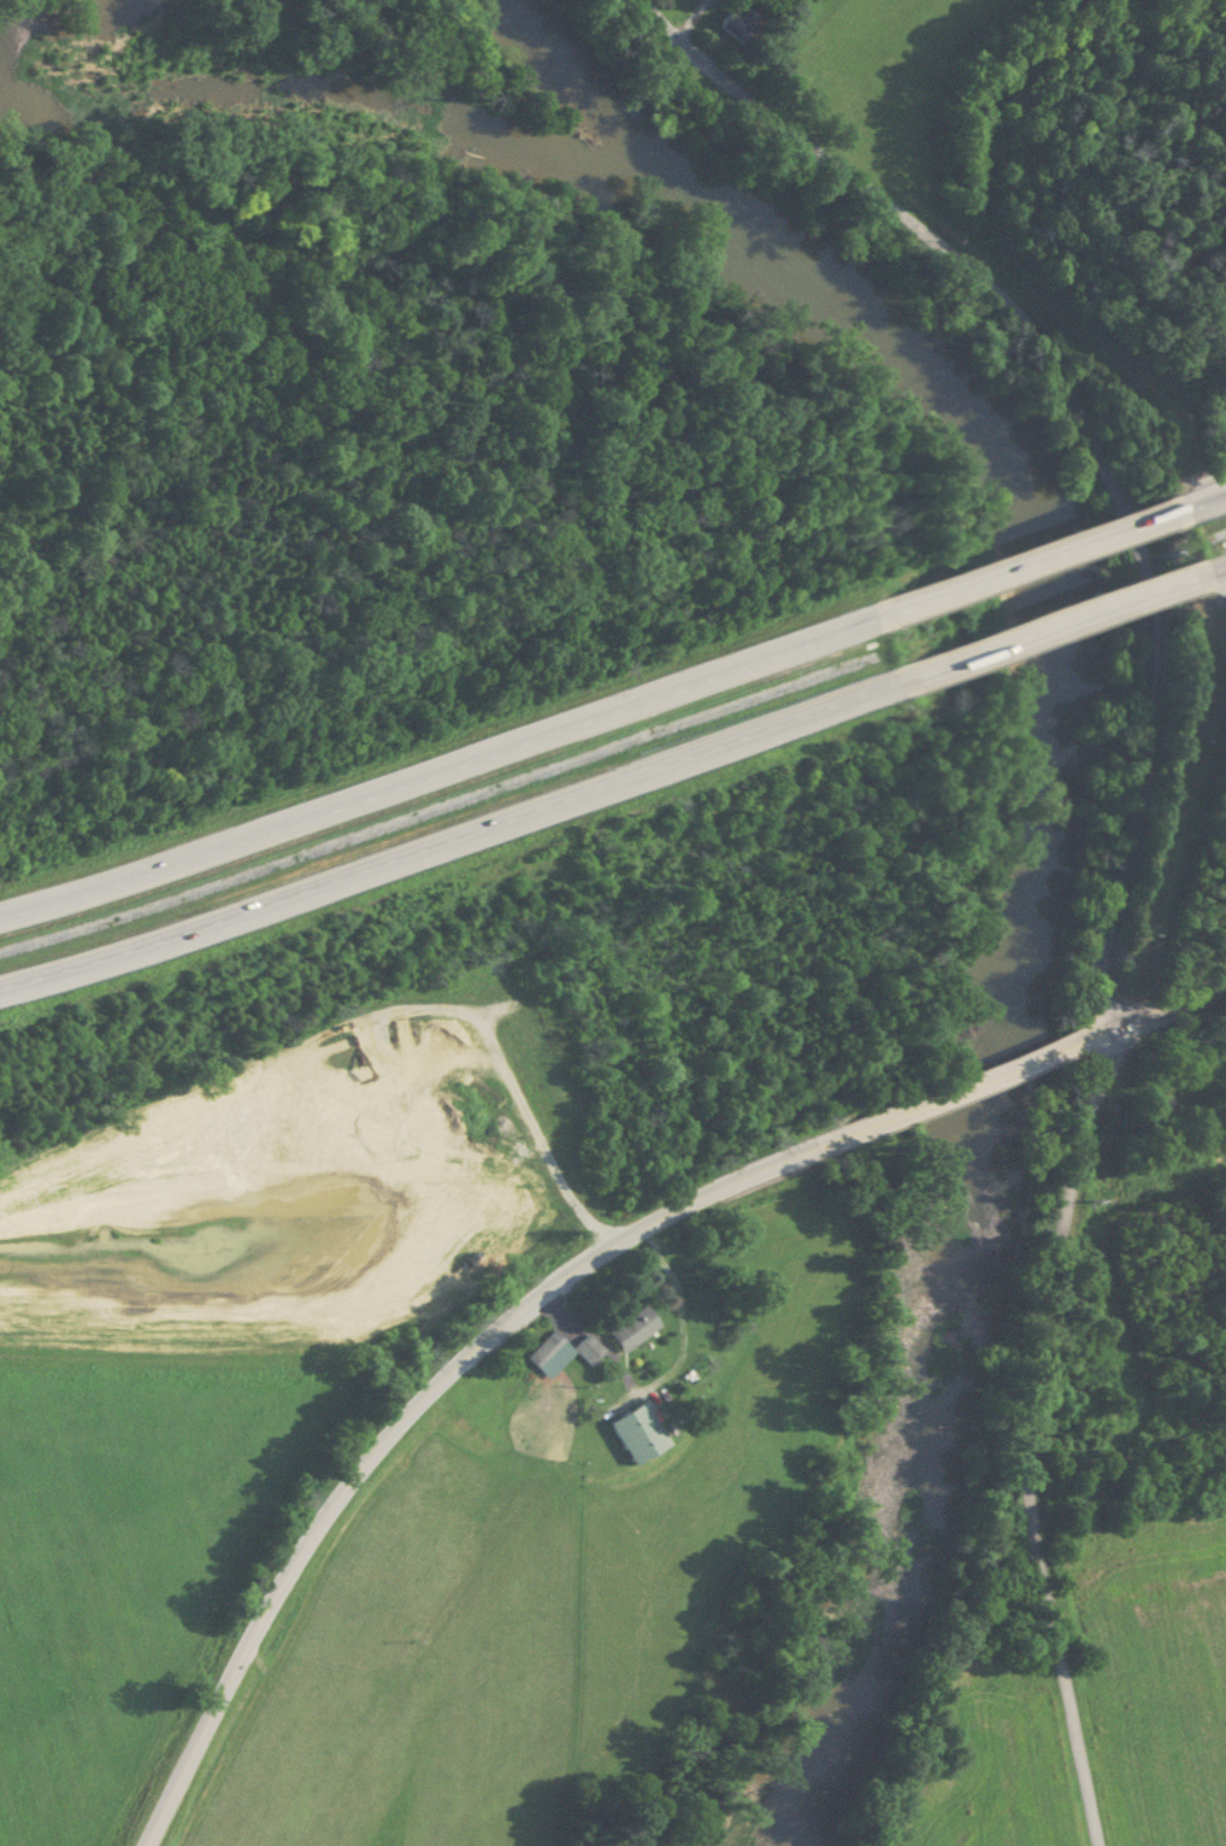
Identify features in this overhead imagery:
building: (727, 19)
road: (1020, 313)
road: (1050, 562)
river: (974, 618)
road: (1057, 627)
road: (437, 770)
road: (444, 836)
road: (1162, 1004)
road: (901, 1109)
road: (1049, 1298)
building: (627, 1327)
building: (584, 1348)
building: (546, 1353)
building: (630, 1431)
road: (361, 1463)

